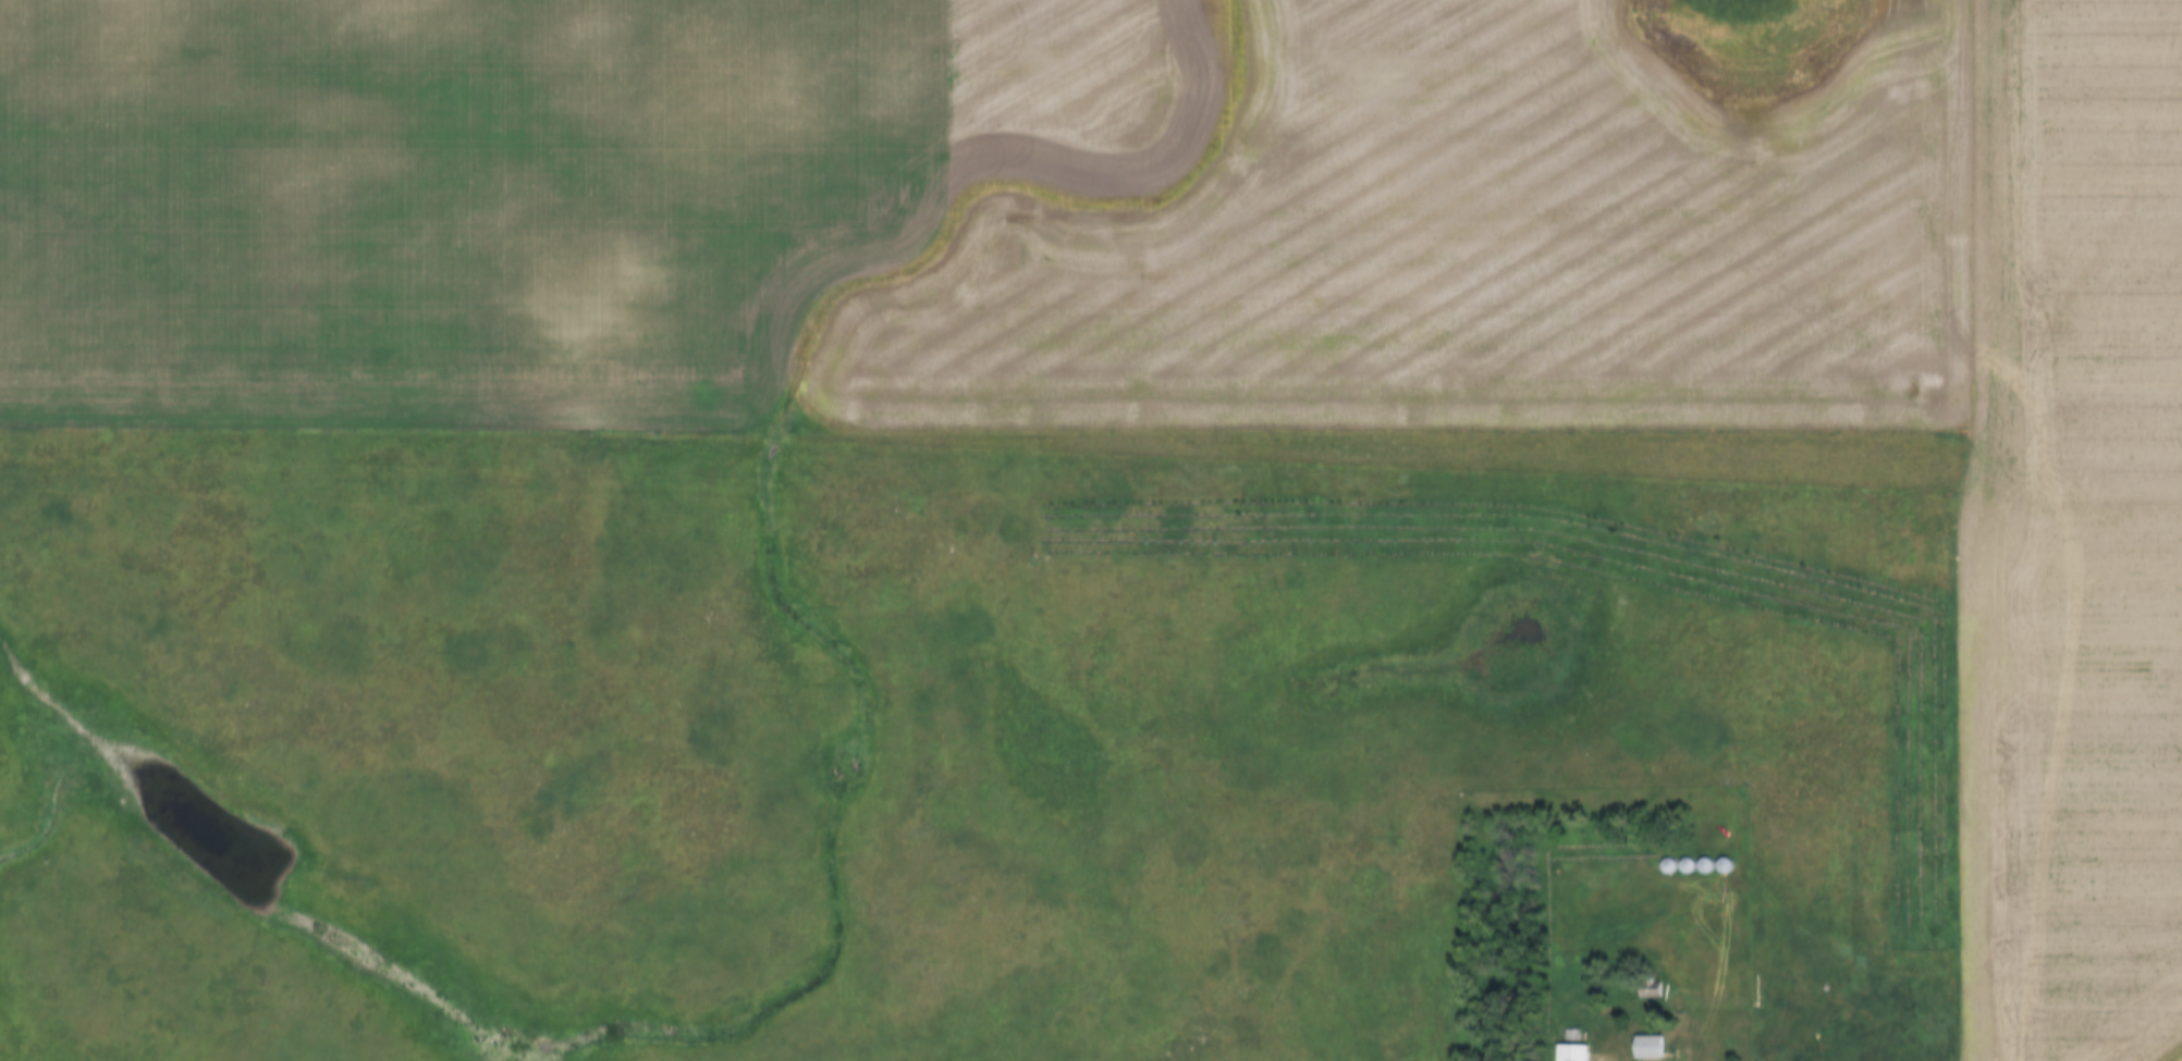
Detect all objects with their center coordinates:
building: (1706, 866)
building: (1687, 867)
building: (1725, 867)
building: (1652, 1049)
road: (1696, 1051)
building: (1573, 1053)

